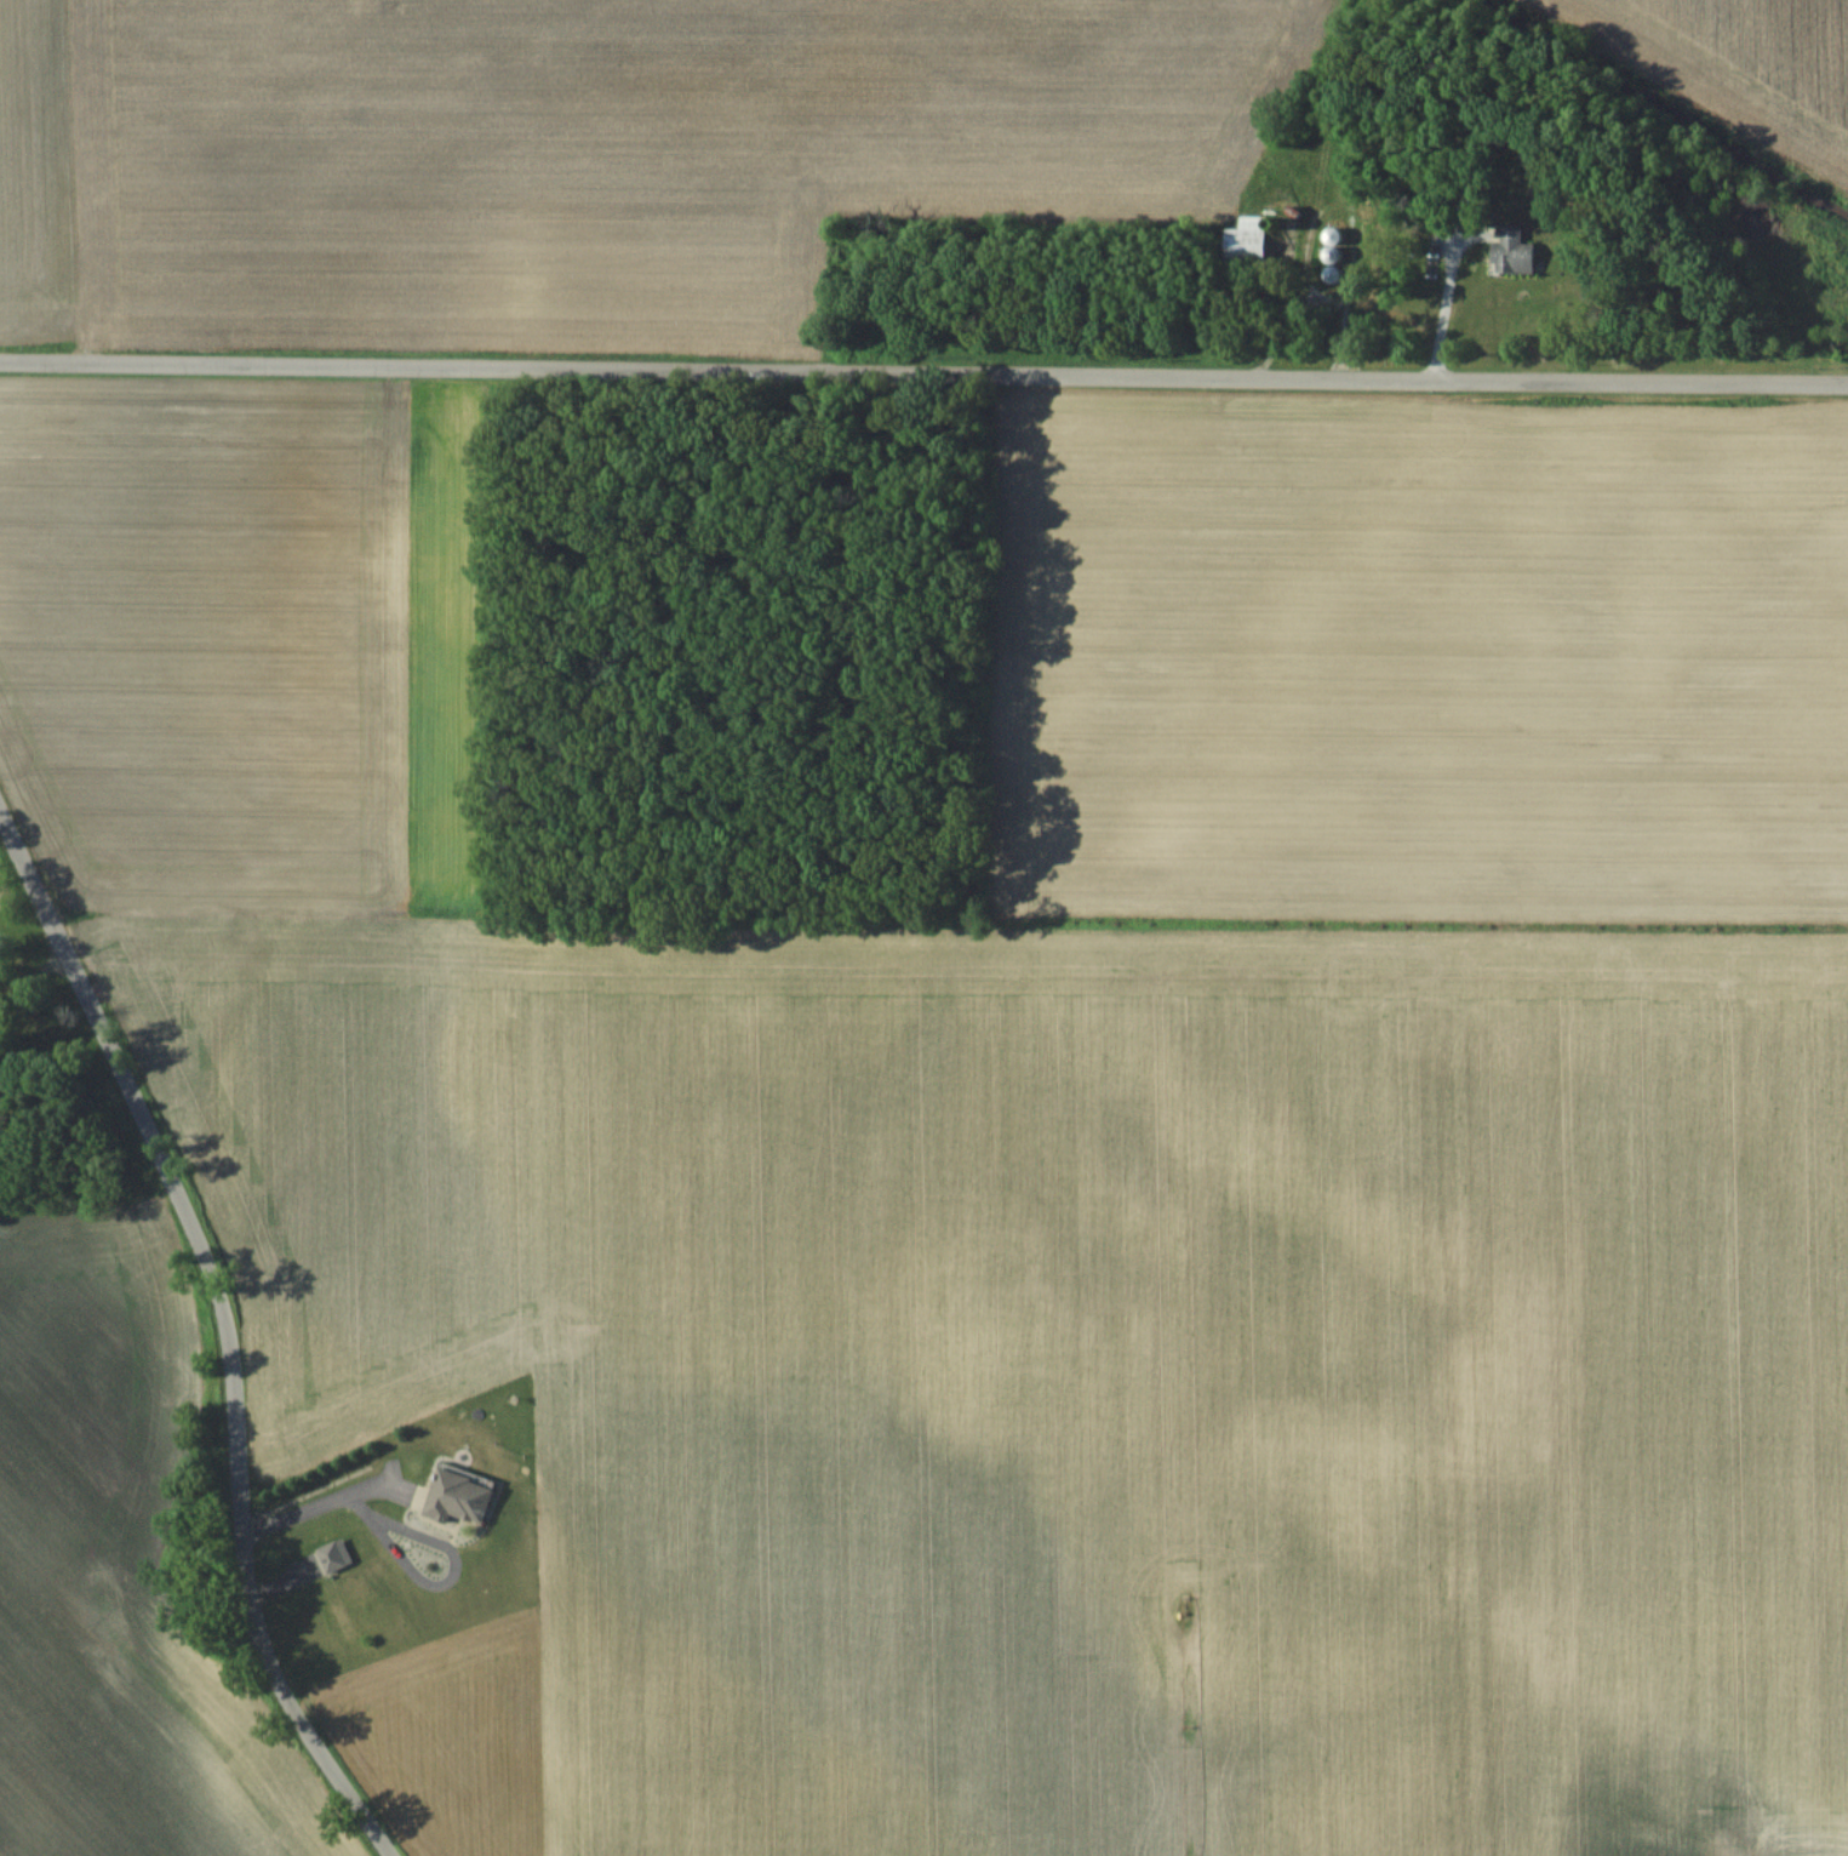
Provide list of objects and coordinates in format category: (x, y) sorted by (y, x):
building: (1246, 241)
building: (1511, 255)
road: (1444, 297)
road: (923, 371)
road: (227, 1327)
building: (457, 1496)
road: (313, 1506)
road: (384, 1526)
building: (332, 1555)

